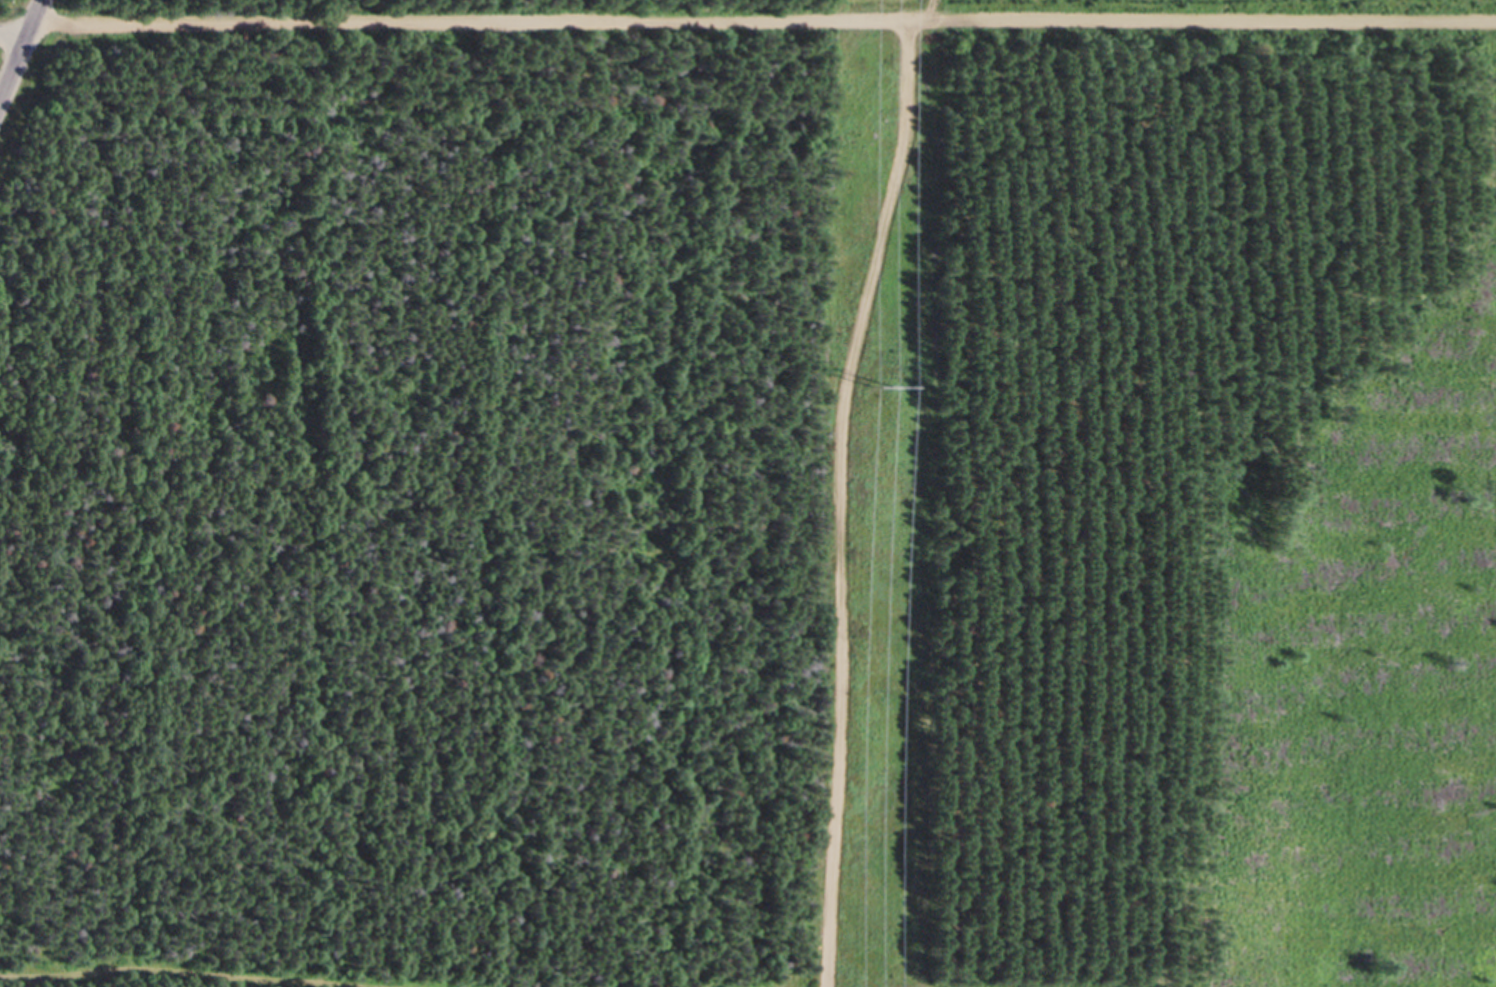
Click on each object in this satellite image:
road: (929, 9)
road: (759, 19)
road: (11, 30)
road: (17, 44)
power tower: (881, 383)
road: (846, 499)
road: (204, 968)

